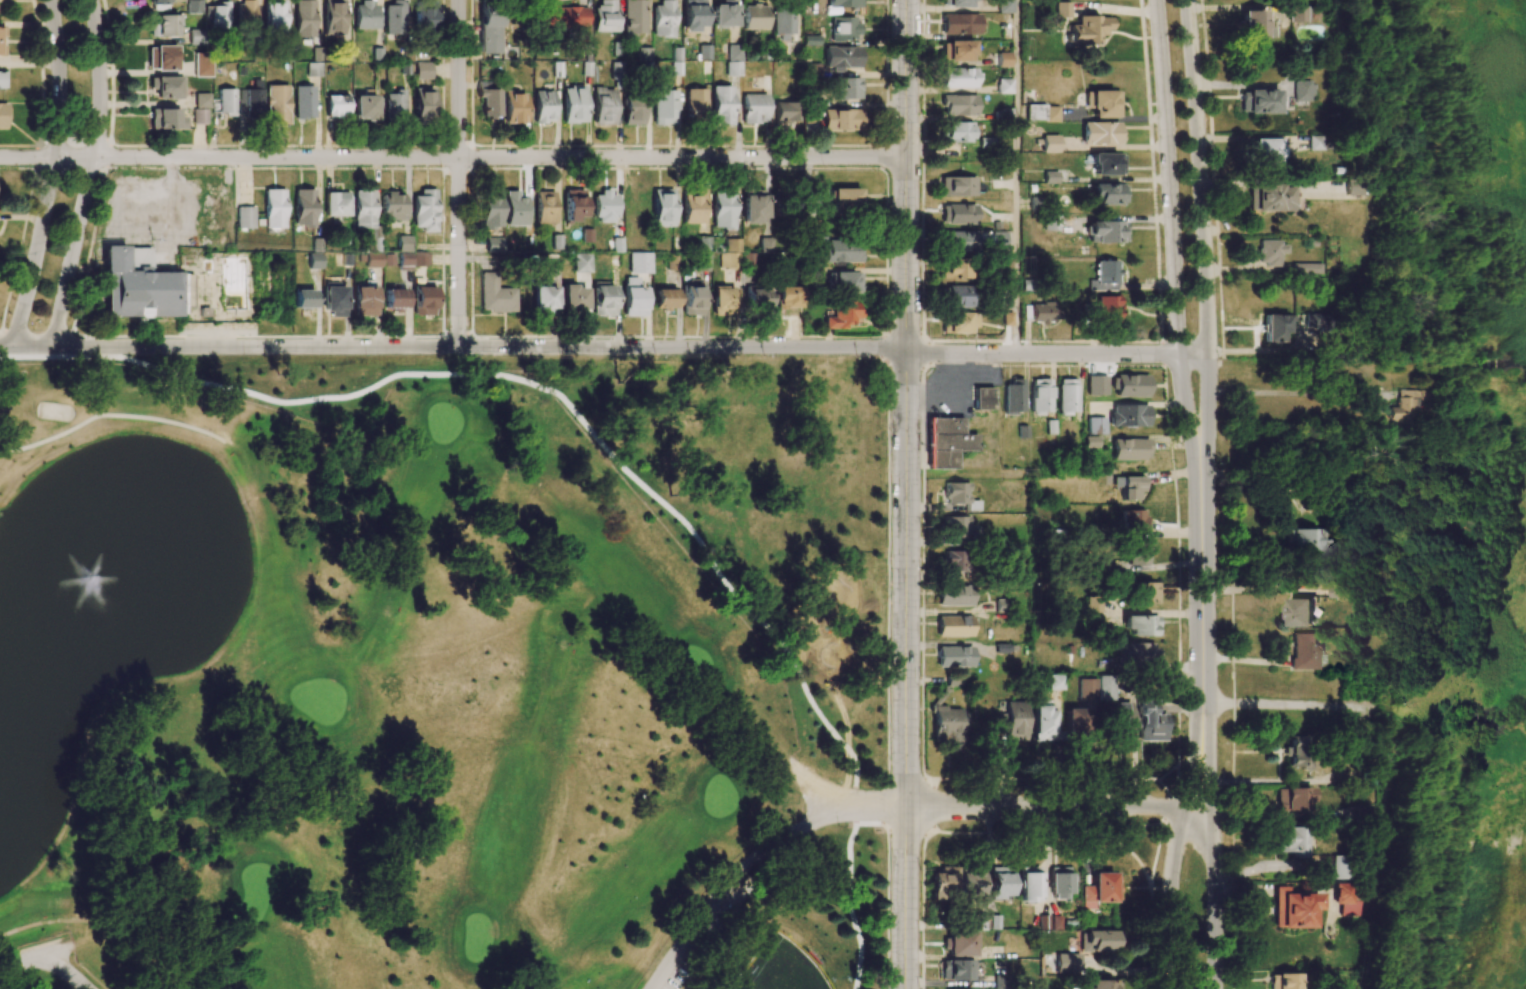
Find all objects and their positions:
building: (159, 2)
building: (842, 3)
building: (956, 3)
building: (194, 6)
building: (1004, 6)
building: (1062, 9)
building: (245, 14)
building: (692, 14)
building: (724, 14)
building: (1296, 14)
building: (218, 15)
building: (365, 15)
building: (424, 16)
building: (604, 16)
building: (273, 17)
building: (332, 17)
building: (633, 17)
building: (754, 17)
building: (304, 18)
building: (393, 18)
building: (566, 19)
building: (662, 19)
building: (782, 22)
building: (959, 24)
building: (164, 25)
building: (1254, 25)
building: (844, 28)
building: (1088, 30)
building: (1, 31)
building: (488, 32)
street lamp: (66, 34)
street lamp: (88, 36)
building: (196, 36)
building: (1, 50)
building: (956, 51)
building: (644, 54)
building: (841, 57)
building: (161, 58)
building: (1003, 59)
building: (733, 60)
street lamp: (1176, 61)
building: (203, 64)
building: (314, 70)
building: (422, 71)
building: (616, 71)
building: (957, 78)
building: (2, 80)
building: (1003, 86)
building: (166, 87)
building: (846, 88)
building: (1302, 90)
building: (202, 100)
building: (251, 100)
building: (226, 102)
building: (304, 102)
building: (695, 102)
building: (1262, 102)
building: (394, 103)
building: (489, 103)
building: (1102, 103)
building: (573, 104)
building: (277, 105)
building: (422, 105)
building: (721, 105)
building: (958, 105)
building: (336, 106)
building: (543, 106)
building: (604, 106)
building: (664, 106)
building: (365, 107)
building: (513, 107)
building: (754, 108)
building: (633, 111)
building: (785, 112)
building: (1042, 113)
building: (2, 116)
building: (200, 116)
building: (809, 116)
building: (166, 119)
building: (840, 120)
building: (955, 132)
building: (1099, 133)
street lamp: (67, 134)
street lamp: (88, 135)
street lamp: (920, 142)
building: (1050, 144)
street lamp: (238, 148)
building: (1266, 153)
road: (453, 157)
building: (1106, 164)
street lamp: (136, 165)
street lamp: (440, 165)
road: (50, 173)
road: (458, 173)
road: (88, 174)
road: (907, 175)
road: (1016, 177)
street lamp: (1184, 180)
building: (957, 186)
building: (1351, 187)
building: (1108, 194)
building: (1270, 198)
building: (844, 199)
building: (337, 204)
building: (573, 204)
building: (392, 206)
building: (752, 206)
building: (544, 207)
building: (604, 207)
building: (692, 207)
building: (274, 208)
building: (304, 208)
building: (662, 208)
building: (363, 209)
building: (491, 209)
building: (515, 209)
building: (722, 209)
building: (424, 210)
building: (958, 214)
building: (244, 217)
building: (1050, 223)
street lamp: (920, 231)
building: (1105, 232)
street lamp: (88, 239)
street lamp: (150, 239)
building: (995, 240)
building: (959, 241)
building: (403, 243)
building: (703, 243)
building: (494, 244)
building: (765, 245)
road: (1203, 250)
road: (1172, 251)
building: (841, 252)
building: (1270, 252)
street lamp: (26, 253)
building: (616, 254)
building: (730, 254)
building: (420, 259)
building: (373, 260)
building: (749, 260)
building: (405, 261)
building: (582, 263)
building: (640, 263)
building: (953, 268)
building: (1306, 268)
building: (1104, 276)
building: (843, 282)
building: (137, 285)
building: (495, 295)
building: (956, 296)
building: (788, 297)
building: (574, 298)
building: (634, 298)
building: (692, 298)
building: (757, 298)
building: (303, 299)
building: (333, 299)
building: (394, 299)
building: (603, 299)
building: (665, 299)
building: (364, 301)
building: (423, 301)
building: (546, 301)
building: (723, 301)
building: (1107, 307)
street lamp: (920, 311)
building: (1039, 313)
flagpole: (41, 314)
building: (842, 314)
street lamp: (1191, 320)
building: (1314, 321)
building: (957, 322)
building: (1275, 327)
street lamp: (35, 329)
street lamp: (975, 343)
street lamp: (1098, 343)
road: (453, 346)
street lamp: (148, 353)
street lamp: (243, 354)
road: (1057, 354)
street lamp: (367, 356)
street lamp: (470, 356)
street lamp: (560, 356)
street lamp: (764, 356)
street lamp: (856, 356)
street lamp: (654, 357)
street lamp: (1139, 363)
building: (1093, 382)
building: (1130, 385)
park: (131, 388)
building: (1040, 396)
building: (1067, 396)
building: (1013, 397)
road: (955, 398)
parking lot: (959, 399)
building: (982, 399)
building: (1397, 408)
road: (110, 414)
street lamp: (929, 415)
building: (1128, 415)
park: (443, 421)
building: (1095, 426)
street lamp: (889, 432)
building: (1090, 441)
building: (945, 442)
road: (602, 444)
building: (1130, 449)
park: (511, 452)
park: (252, 463)
street lamp: (1217, 464)
building: (1131, 487)
building: (956, 495)
building: (1133, 520)
street lamp: (919, 528)
building: (955, 528)
building: (1305, 541)
building: (1137, 553)
building: (956, 561)
road: (888, 565)
building: (1146, 593)
building: (954, 596)
park: (386, 600)
street lamp: (890, 602)
street lamp: (1187, 606)
road: (1202, 607)
building: (1301, 611)
park: (754, 617)
building: (1141, 625)
building: (954, 626)
building: (1304, 651)
building: (1137, 654)
park: (559, 656)
building: (954, 657)
park: (695, 665)
road: (906, 669)
street lamp: (919, 676)
building: (952, 680)
building: (1055, 682)
park: (356, 685)
building: (1105, 688)
building: (1087, 689)
park: (320, 699)
road: (1268, 703)
building: (1120, 720)
building: (1013, 721)
building: (1042, 721)
building: (1076, 721)
building: (1150, 722)
building: (947, 725)
street lamp: (1218, 742)
building: (1296, 751)
street lamp: (890, 761)
road: (1232, 771)
road: (1268, 781)
road: (811, 785)
park: (723, 791)
building: (1293, 799)
road: (1057, 806)
road: (887, 807)
street lamp: (838, 826)
building: (159, 837)
building: (1291, 841)
road: (1174, 849)
road: (1213, 850)
road: (752, 857)
building: (1340, 868)
street lamp: (920, 869)
street lamp: (1179, 879)
building: (970, 880)
building: (1059, 882)
building: (943, 883)
building: (1000, 883)
building: (1029, 884)
street lamp: (1203, 884)
park: (252, 888)
building: (1100, 889)
building: (1344, 900)
park: (48, 905)
building: (1293, 909)
road: (887, 911)
road: (95, 919)
street lamp: (709, 921)
parking lot: (708, 928)
road: (131, 931)
park: (479, 937)
building: (1100, 940)
building: (958, 944)
street lamp: (890, 951)
road: (47, 958)
street lamp: (78, 962)
building: (1068, 963)
park: (44, 966)
park: (779, 968)
building: (956, 970)
building: (1000, 981)
building: (1283, 981)
park: (622, 984)
building: (1103, 984)
park: (513, 988)

